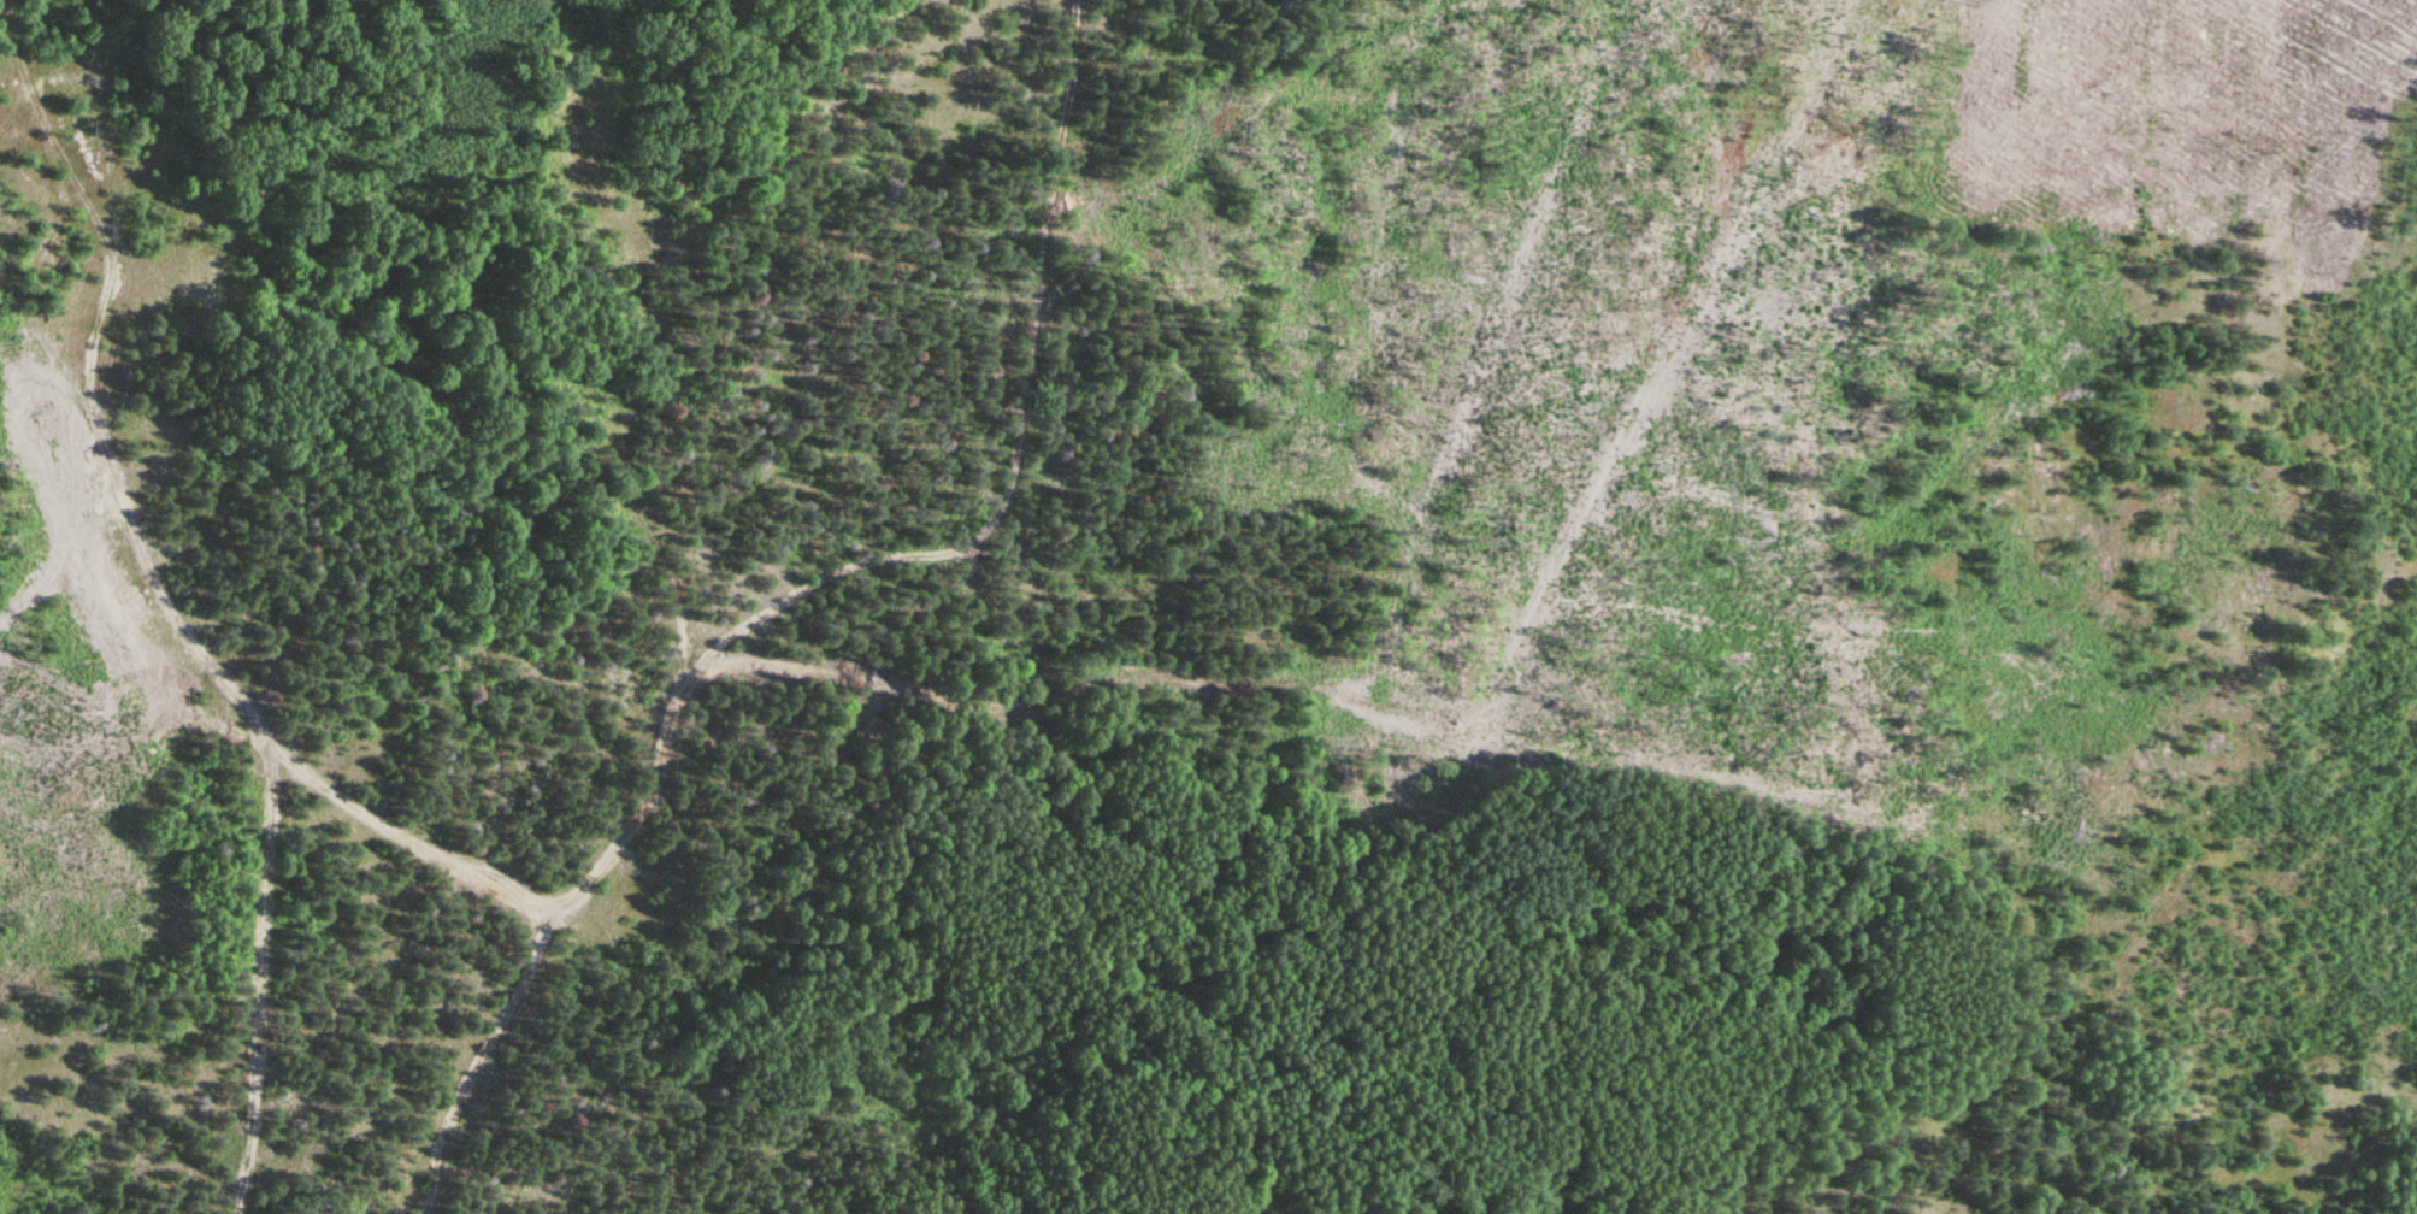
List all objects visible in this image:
road: (660, 543)

